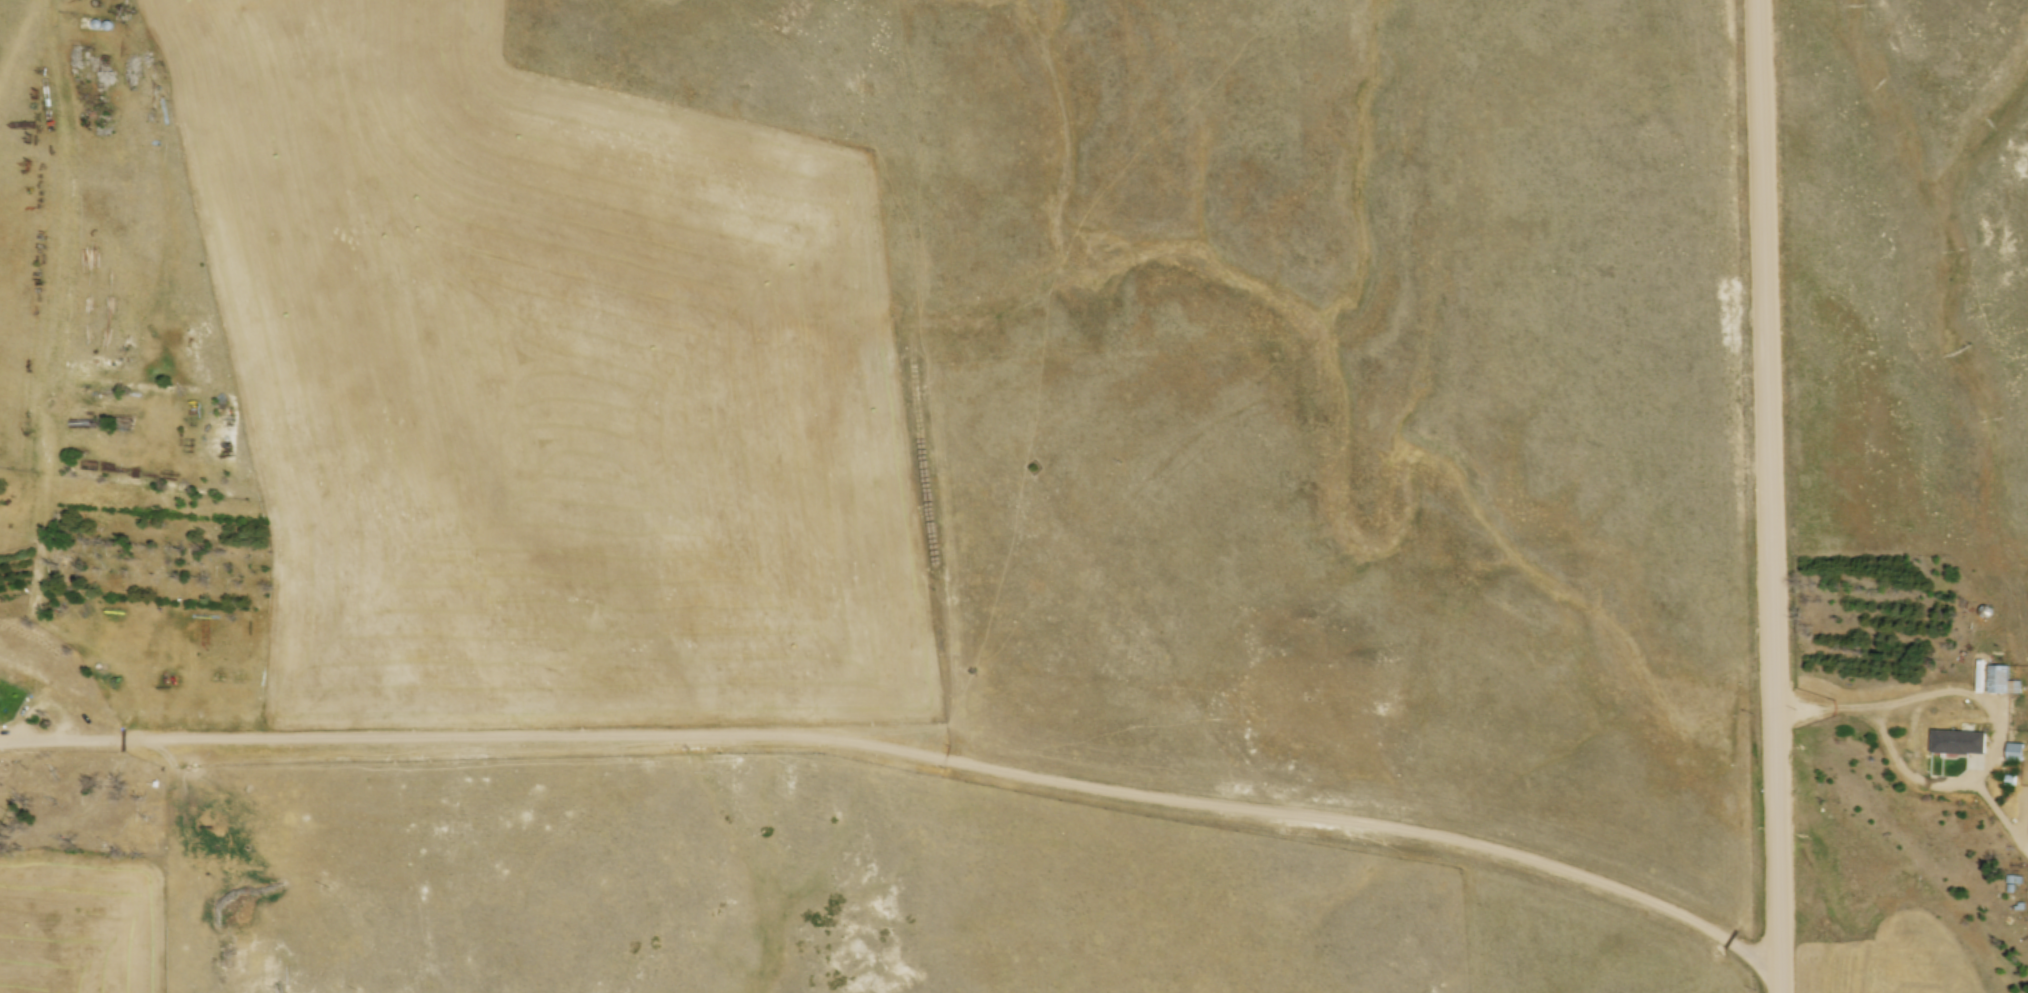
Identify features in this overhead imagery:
road: (1773, 496)
building: (2003, 678)
road: (1828, 715)
road: (1997, 731)
building: (1963, 738)
road: (36, 742)
building: (2018, 748)
road: (948, 763)

